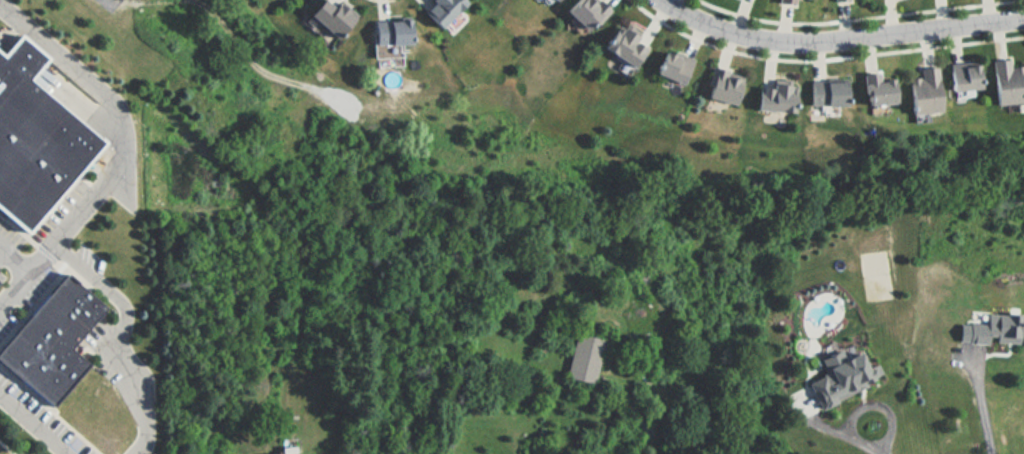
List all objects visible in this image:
road: (381, 0)
building: (846, 0)
building: (550, 1)
building: (789, 1)
building: (583, 13)
building: (441, 14)
building: (326, 19)
road: (857, 19)
park: (121, 33)
building: (387, 38)
road: (840, 41)
building: (625, 48)
road: (819, 60)
building: (670, 67)
building: (960, 78)
building: (1004, 83)
road: (95, 87)
building: (722, 87)
building: (875, 91)
building: (825, 94)
building: (921, 94)
building: (773, 97)
building: (36, 128)
parking lot: (46, 249)
road: (1, 252)
road: (48, 252)
road: (15, 262)
building: (991, 319)
road: (113, 339)
building: (49, 340)
building: (583, 358)
building: (831, 372)
road: (984, 401)
parking lot: (43, 416)
road: (32, 425)
road: (853, 434)
road: (5, 448)
parking lot: (133, 450)
building: (283, 450)

